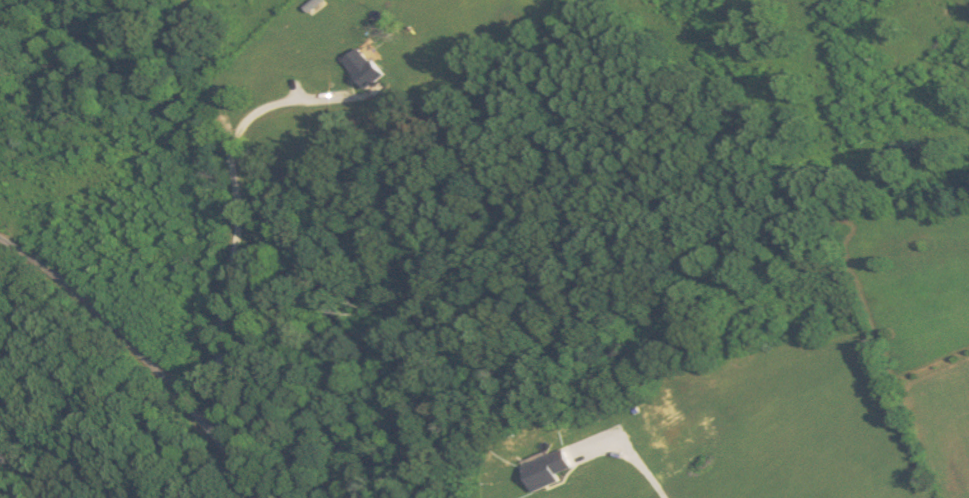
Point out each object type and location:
building: (358, 68)
road: (260, 110)
road: (233, 200)
road: (142, 353)

